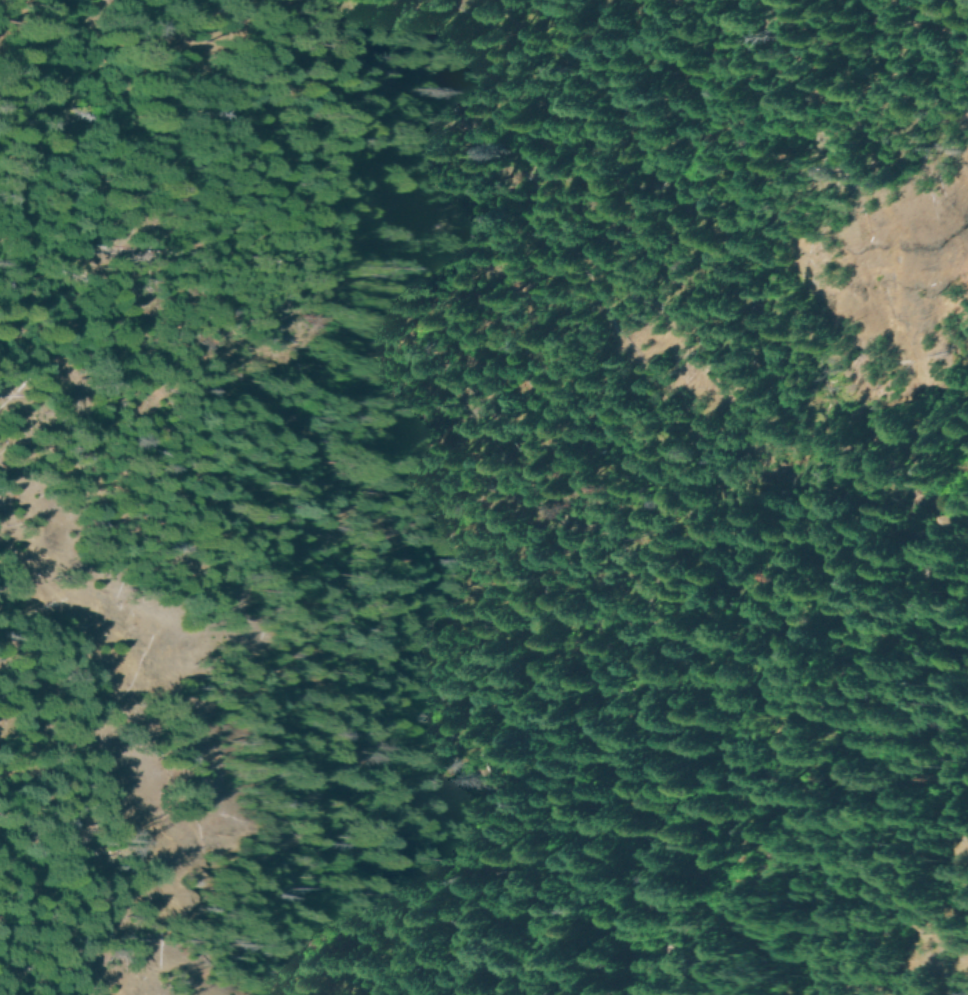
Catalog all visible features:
road: (876, 564)

